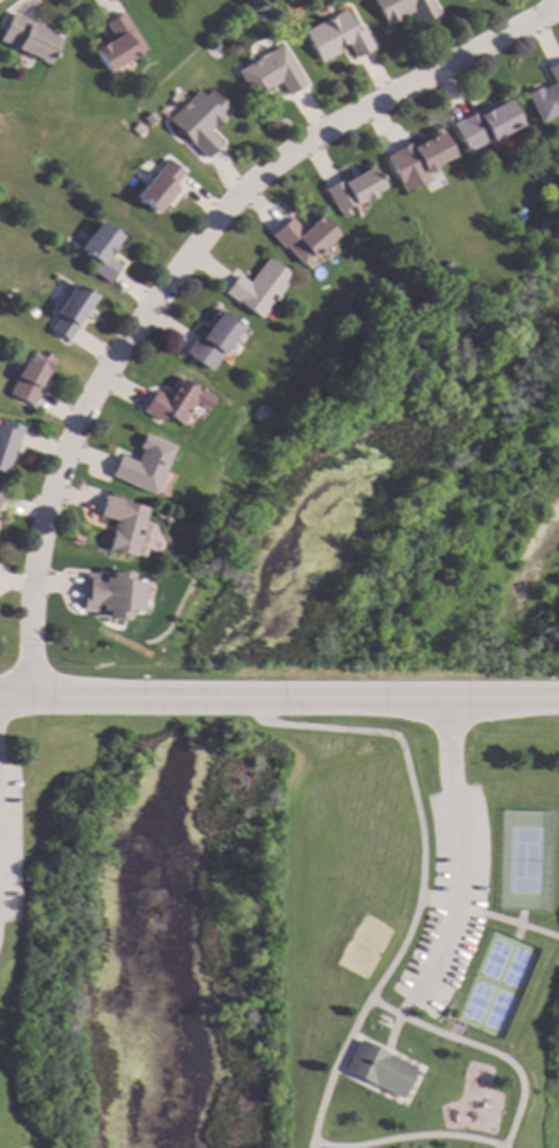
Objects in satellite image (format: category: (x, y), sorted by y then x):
building: (402, 8)
building: (260, 17)
building: (336, 34)
building: (26, 37)
building: (116, 42)
building: (269, 71)
building: (546, 94)
building: (198, 119)
building: (484, 124)
building: (415, 159)
building: (352, 184)
building: (159, 185)
building: (303, 235)
building: (100, 248)
road: (179, 270)
building: (256, 286)
building: (69, 310)
building: (210, 338)
building: (30, 377)
building: (174, 400)
building: (7, 440)
building: (141, 462)
building: (120, 522)
building: (109, 592)
road: (279, 699)
road: (412, 794)
road: (456, 850)
park: (523, 860)
parking lot: (449, 901)
road: (489, 915)
park: (278, 931)
park: (363, 946)
park: (496, 984)
road: (482, 1047)
road: (334, 1066)
building: (379, 1068)
road: (404, 1136)

